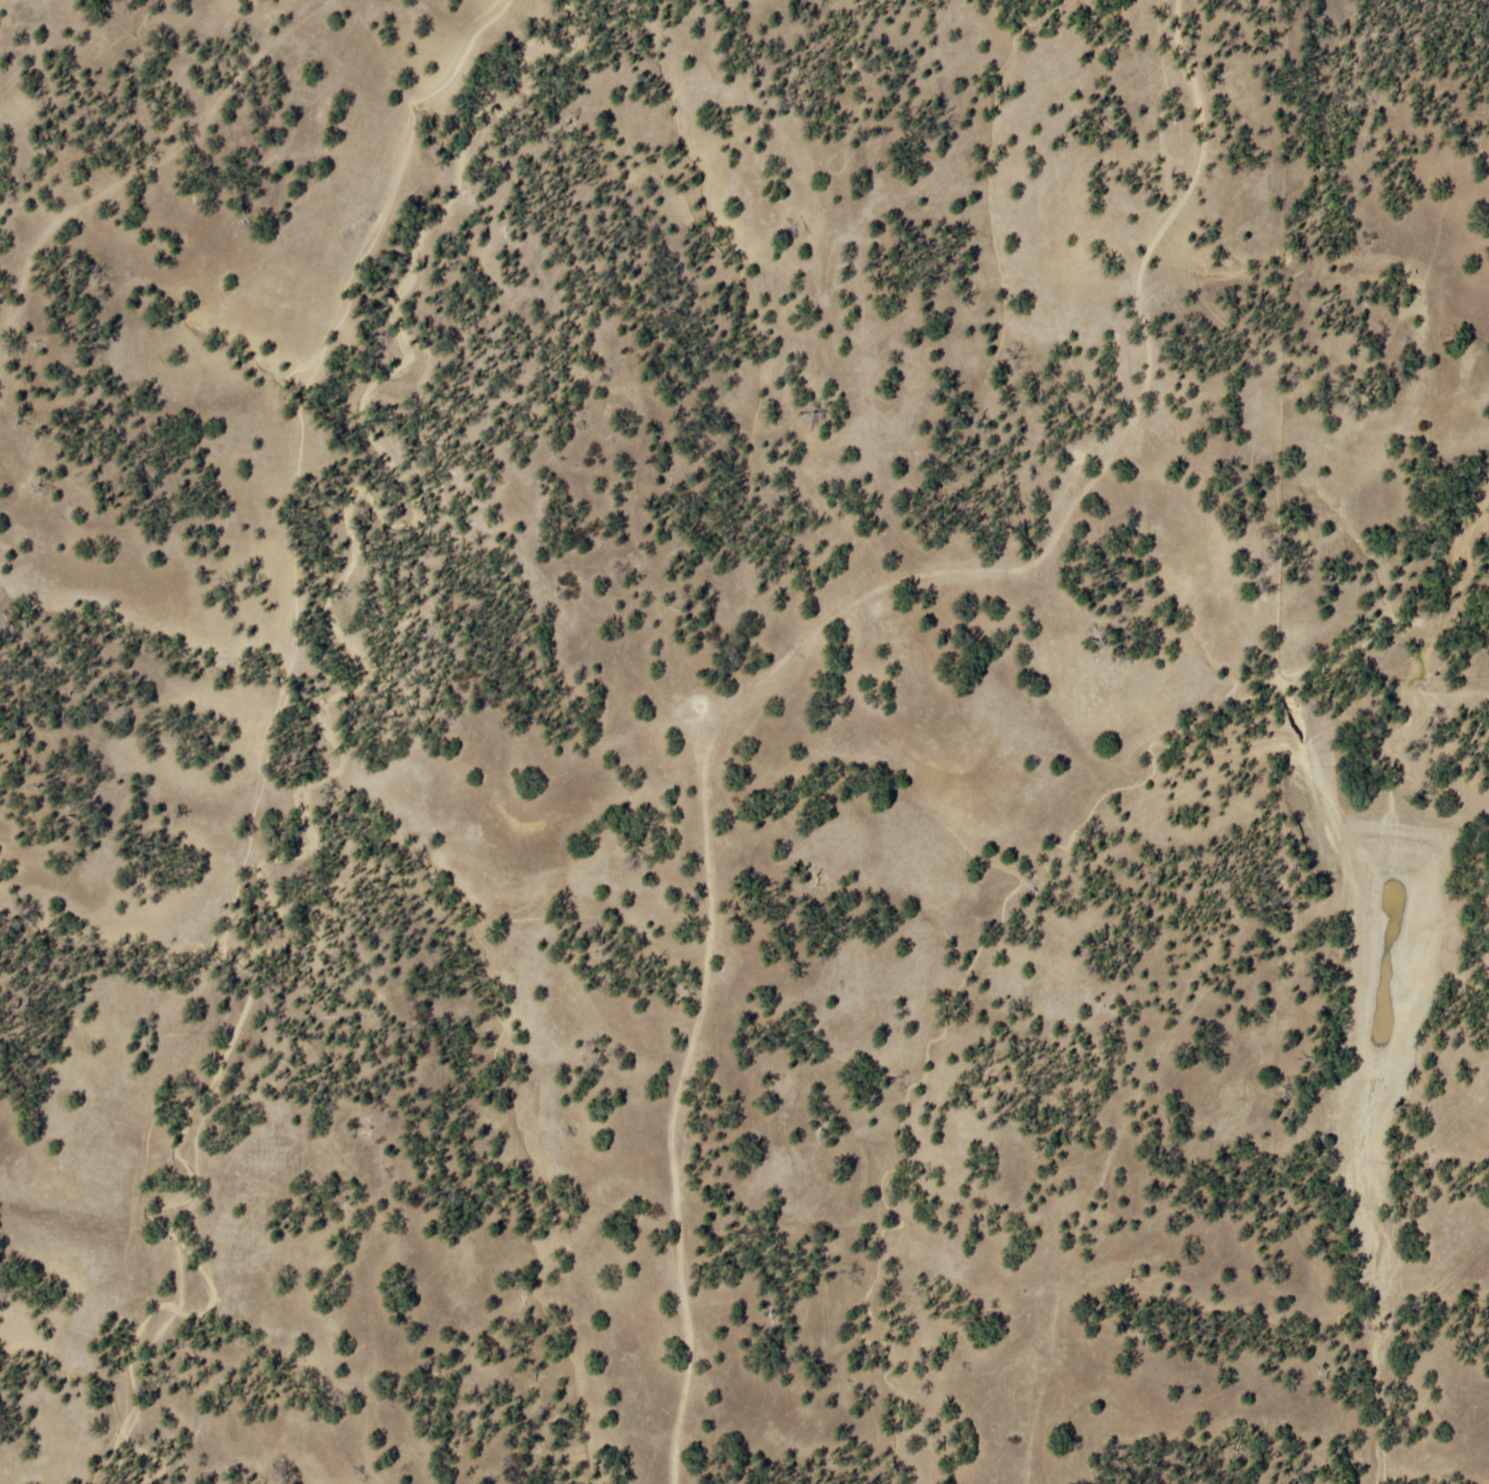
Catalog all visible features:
road: (722, 701)

